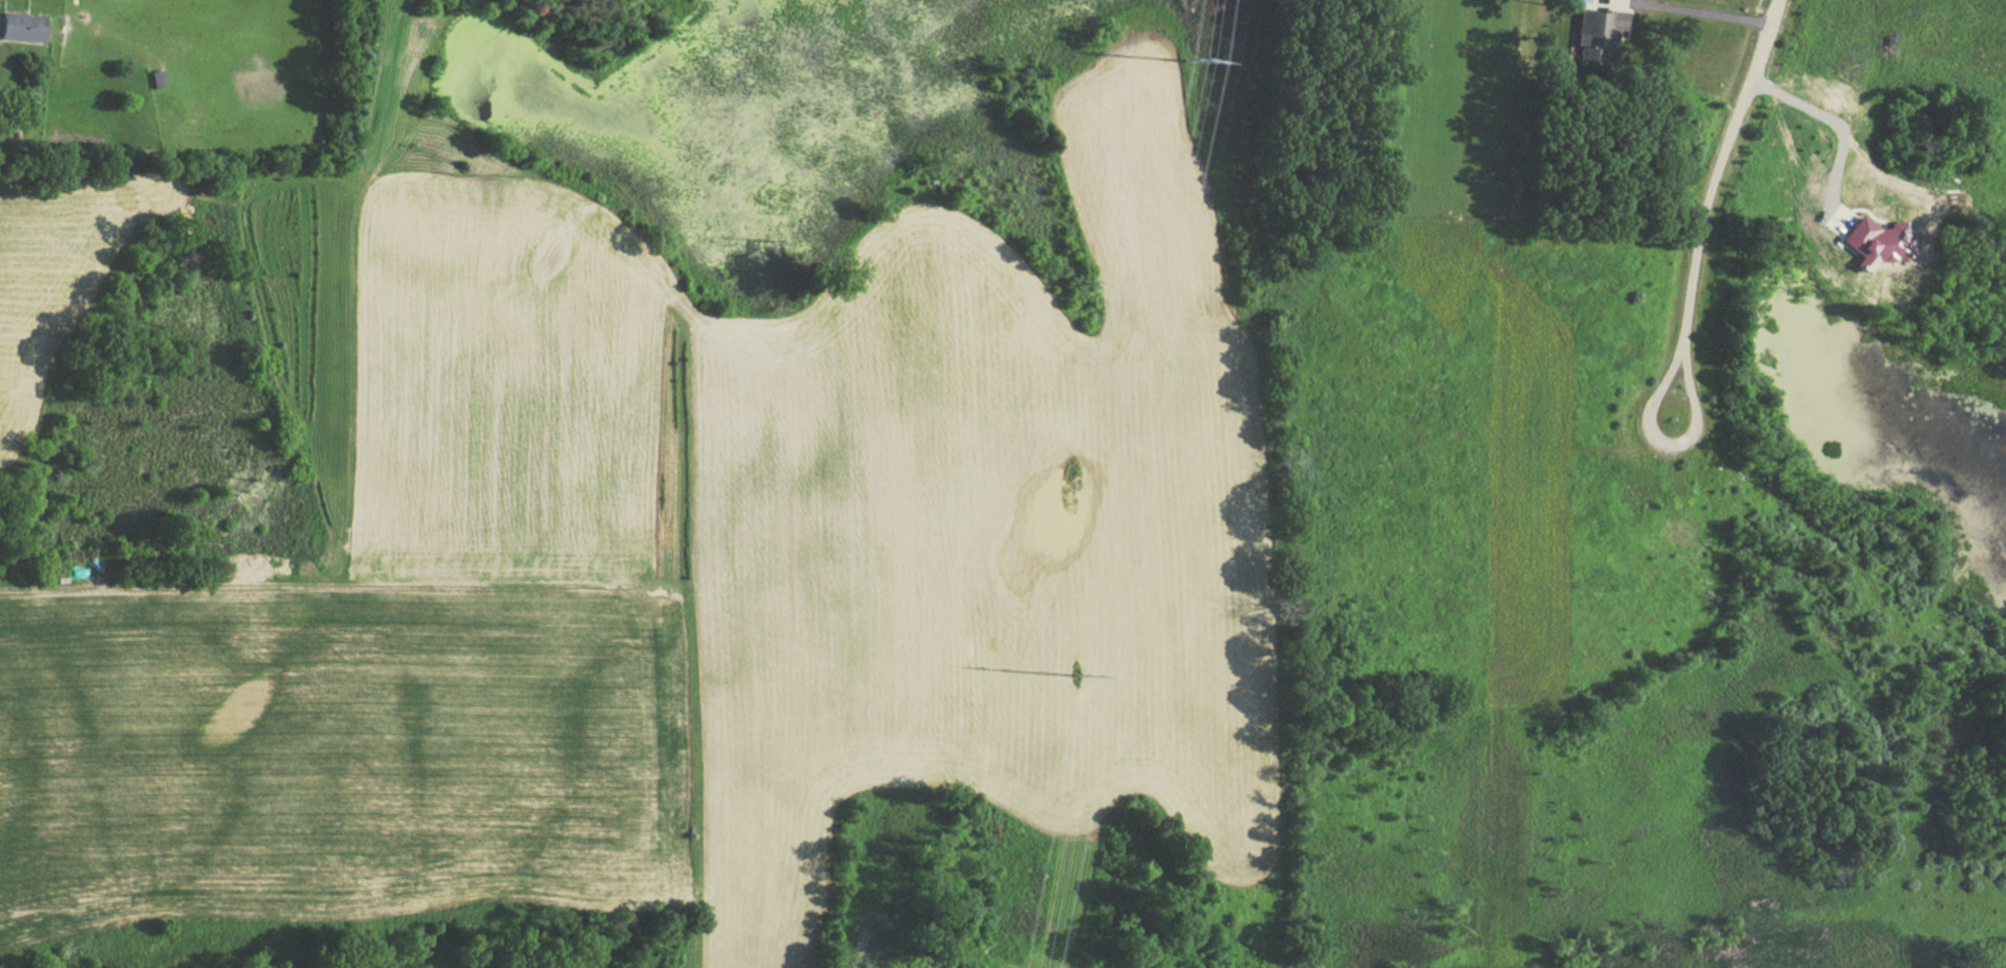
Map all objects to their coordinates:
road: (1719, 7)
building: (18, 28)
building: (1595, 35)
power tower: (1190, 65)
building: (153, 80)
road: (1835, 129)
road: (1703, 214)
crop: (52, 267)
crop: (695, 574)
power tower: (1080, 679)

